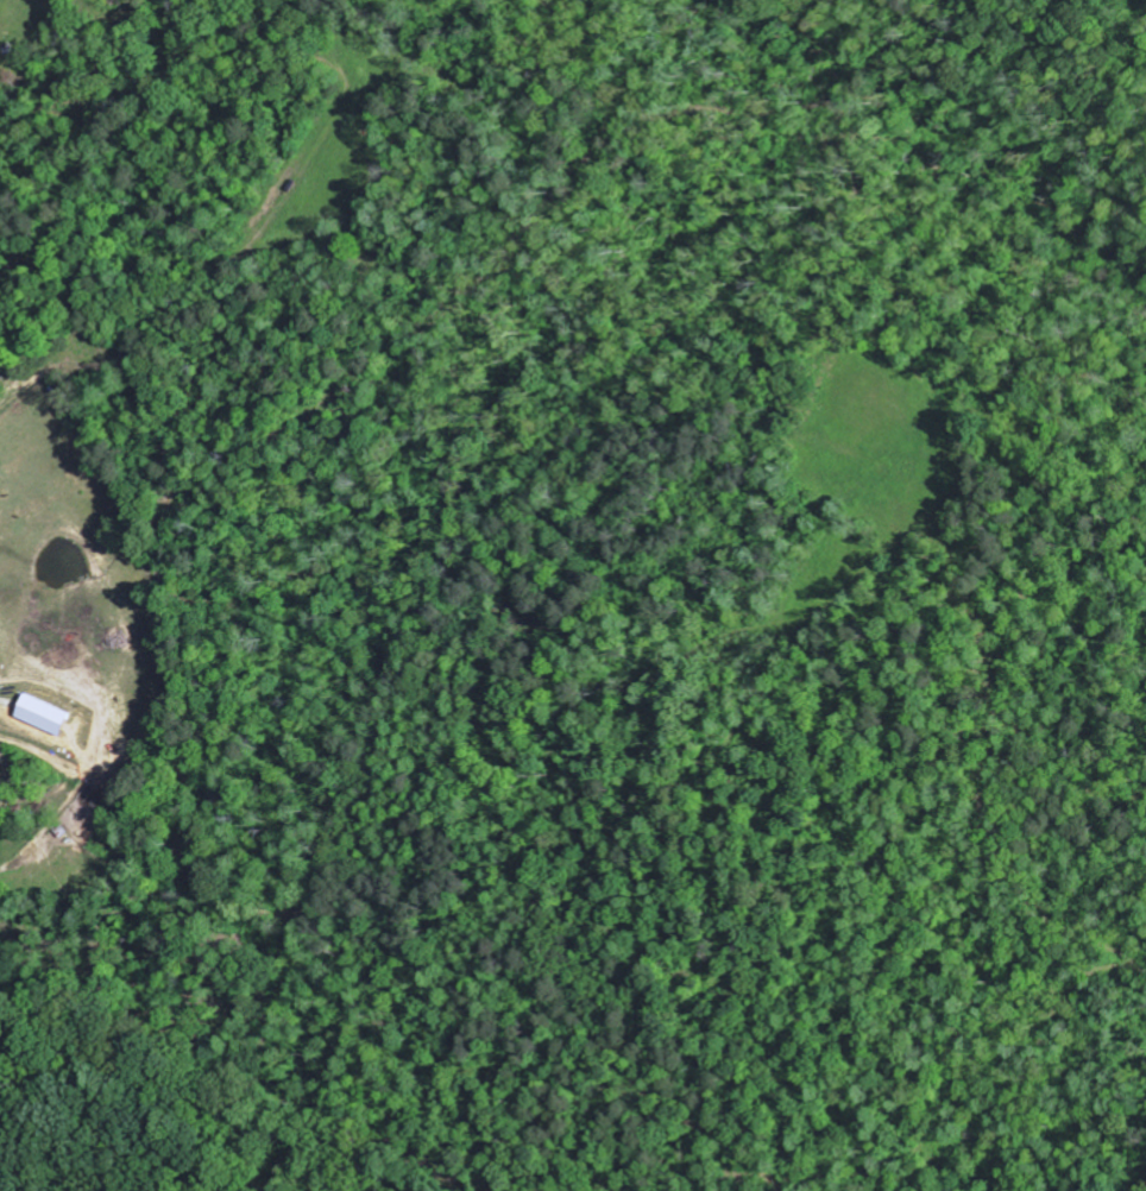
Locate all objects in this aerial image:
building: (50, 714)

